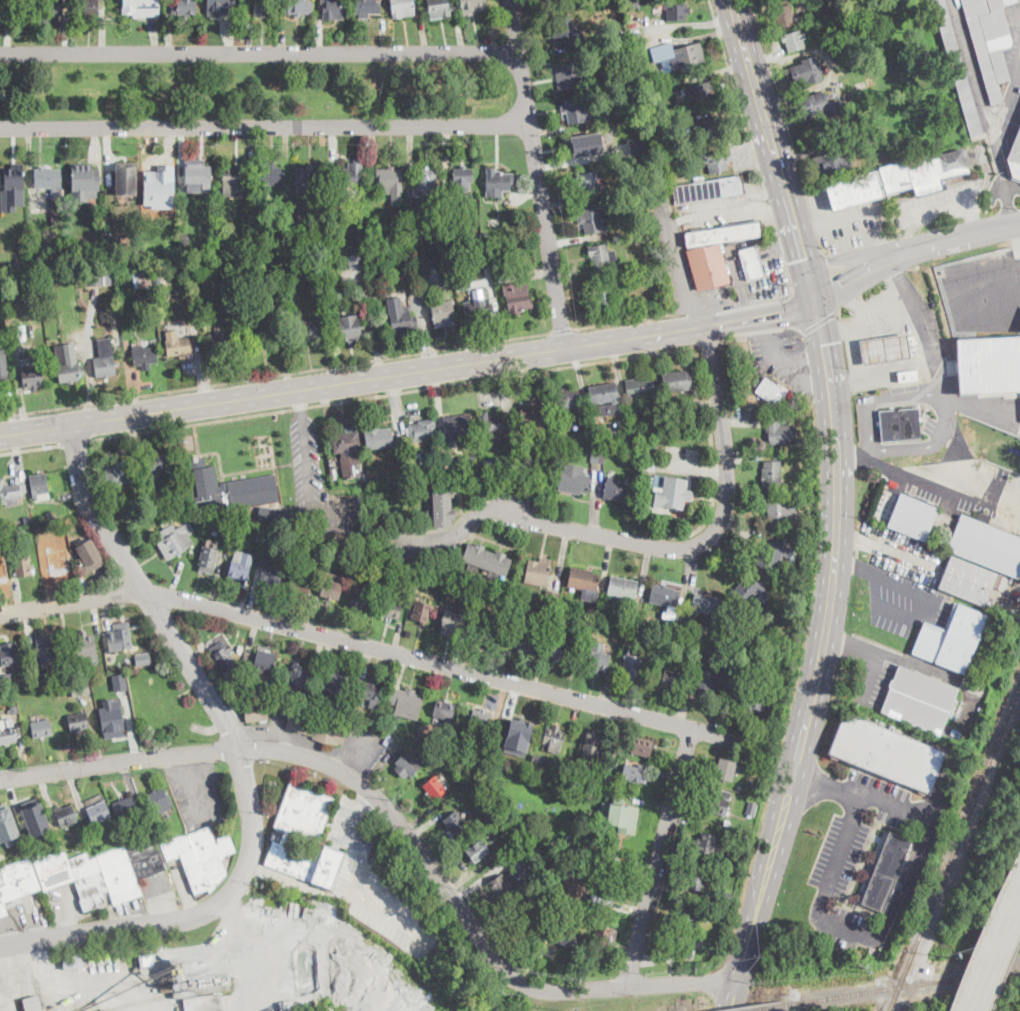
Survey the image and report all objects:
building: (168, 1)
road: (766, 1)
building: (218, 6)
building: (263, 6)
building: (297, 6)
building: (2, 7)
building: (48, 7)
building: (88, 7)
building: (141, 7)
building: (184, 7)
building: (336, 7)
building: (473, 7)
building: (367, 8)
building: (403, 8)
building: (440, 8)
building: (676, 10)
building: (784, 16)
building: (562, 28)
building: (794, 40)
building: (990, 42)
road: (259, 51)
building: (679, 54)
building: (957, 67)
building: (804, 71)
building: (570, 75)
road: (731, 79)
park: (248, 91)
building: (699, 92)
building: (817, 105)
building: (575, 110)
road: (264, 125)
building: (708, 129)
building: (583, 144)
road: (774, 153)
building: (718, 161)
building: (1015, 161)
building: (833, 163)
building: (924, 171)
road: (537, 174)
building: (195, 175)
building: (269, 176)
building: (127, 177)
building: (308, 177)
building: (349, 177)
building: (234, 179)
building: (156, 180)
building: (462, 180)
building: (85, 181)
building: (498, 181)
building: (588, 182)
building: (391, 183)
building: (12, 187)
building: (427, 187)
building: (52, 189)
building: (709, 189)
building: (669, 190)
building: (855, 190)
building: (447, 199)
building: (157, 203)
road: (857, 213)
road: (671, 216)
building: (207, 220)
building: (592, 221)
building: (446, 231)
building: (724, 233)
building: (484, 234)
building: (115, 236)
building: (373, 236)
building: (635, 237)
building: (3, 238)
building: (362, 239)
building: (416, 239)
building: (184, 241)
building: (298, 244)
building: (247, 248)
road: (911, 250)
road: (804, 253)
building: (601, 255)
road: (848, 257)
building: (355, 261)
building: (38, 262)
building: (751, 263)
building: (2, 264)
building: (708, 265)
building: (498, 268)
building: (313, 276)
building: (99, 277)
building: (447, 277)
building: (505, 277)
road: (832, 278)
building: (142, 279)
building: (460, 279)
building: (412, 280)
parking lot: (765, 282)
building: (462, 287)
building: (518, 296)
parking lot: (716, 297)
building: (602, 298)
building: (251, 299)
building: (140, 303)
traffic signals: (817, 307)
building: (478, 308)
building: (258, 309)
road: (684, 312)
building: (444, 313)
road: (797, 314)
building: (404, 320)
road: (820, 320)
road: (922, 324)
building: (350, 328)
building: (310, 329)
road: (562, 330)
building: (17, 331)
road: (670, 332)
road: (760, 332)
building: (265, 336)
building: (221, 343)
road: (710, 343)
building: (179, 346)
building: (887, 348)
building: (144, 354)
road: (782, 354)
parking lot: (783, 357)
building: (105, 359)
building: (68, 362)
building: (989, 364)
building: (4, 365)
road: (274, 374)
building: (32, 375)
building: (908, 376)
road: (354, 380)
building: (678, 380)
building: (756, 381)
building: (640, 387)
road: (395, 391)
building: (772, 392)
road: (937, 396)
building: (567, 398)
building: (606, 398)
building: (675, 406)
road: (117, 416)
building: (532, 420)
building: (659, 420)
building: (900, 424)
building: (493, 425)
building: (457, 426)
building: (423, 430)
road: (24, 431)
building: (780, 432)
building: (379, 437)
road: (75, 440)
building: (559, 442)
building: (631, 443)
building: (647, 444)
building: (516, 445)
road: (30, 448)
building: (346, 451)
building: (648, 452)
road: (853, 452)
building: (436, 453)
building: (598, 455)
building: (505, 461)
building: (472, 463)
building: (490, 463)
building: (159, 464)
building: (649, 465)
road: (308, 471)
building: (120, 473)
building: (772, 474)
building: (402, 475)
building: (574, 480)
road: (927, 482)
parking lot: (319, 484)
building: (39, 486)
building: (228, 487)
building: (617, 489)
building: (670, 491)
building: (11, 493)
building: (443, 503)
road: (711, 512)
building: (781, 513)
building: (49, 515)
building: (275, 515)
building: (913, 517)
building: (1, 521)
building: (209, 525)
building: (221, 530)
road: (712, 534)
building: (252, 536)
building: (173, 538)
building: (270, 539)
building: (358, 540)
building: (804, 543)
building: (987, 545)
road: (886, 547)
building: (88, 551)
parking lot: (901, 552)
building: (773, 555)
building: (210, 557)
building: (346, 559)
building: (487, 560)
building: (56, 562)
building: (23, 566)
building: (240, 568)
building: (2, 572)
building: (271, 572)
building: (539, 572)
building: (968, 580)
building: (1000, 581)
building: (410, 582)
building: (300, 583)
building: (585, 583)
building: (440, 585)
building: (332, 586)
building: (622, 589)
building: (747, 591)
road: (926, 595)
building: (552, 597)
parking lot: (902, 598)
building: (469, 599)
building: (667, 600)
building: (361, 601)
building: (706, 604)
building: (392, 609)
building: (422, 611)
building: (545, 613)
building: (554, 613)
building: (598, 616)
building: (453, 622)
building: (647, 624)
building: (600, 626)
building: (486, 628)
building: (525, 636)
building: (120, 637)
building: (630, 637)
building: (736, 637)
building: (951, 638)
road: (871, 642)
building: (85, 645)
building: (240, 648)
building: (560, 648)
road: (379, 649)
building: (47, 651)
building: (10, 653)
building: (689, 653)
building: (222, 656)
building: (143, 657)
building: (599, 657)
building: (265, 661)
building: (128, 662)
road: (817, 663)
building: (632, 667)
parking lot: (870, 669)
building: (74, 670)
building: (779, 670)
building: (298, 675)
building: (43, 677)
building: (672, 679)
building: (6, 681)
building: (119, 681)
building: (334, 682)
building: (232, 685)
building: (704, 686)
building: (80, 687)
building: (47, 688)
building: (368, 691)
building: (919, 700)
building: (754, 701)
building: (406, 702)
building: (316, 705)
building: (14, 709)
building: (449, 711)
building: (256, 712)
building: (111, 717)
building: (481, 720)
building: (79, 721)
building: (377, 721)
building: (315, 725)
building: (42, 728)
building: (7, 731)
building: (518, 733)
building: (956, 733)
building: (553, 739)
building: (642, 746)
building: (438, 748)
building: (592, 749)
building: (886, 753)
road: (240, 758)
building: (540, 759)
building: (406, 765)
building: (727, 770)
building: (580, 772)
building: (636, 773)
building: (609, 776)
building: (754, 786)
building: (434, 788)
building: (599, 790)
building: (759, 794)
building: (159, 801)
building: (719, 801)
building: (126, 807)
building: (752, 808)
building: (99, 812)
building: (66, 815)
building: (619, 816)
building: (36, 821)
road: (397, 822)
building: (728, 823)
building: (454, 824)
road: (355, 825)
building: (7, 828)
building: (79, 833)
building: (310, 836)
building: (570, 837)
railway: (960, 837)
building: (505, 839)
building: (706, 843)
building: (478, 851)
building: (528, 854)
building: (200, 857)
road: (658, 857)
parking lot: (854, 859)
building: (737, 864)
building: (103, 871)
building: (886, 872)
building: (697, 880)
building: (17, 883)
building: (501, 886)
building: (606, 892)
building: (723, 897)
road: (898, 903)
building: (529, 911)
road: (395, 916)
building: (688, 917)
building: (603, 935)
building: (566, 937)
building: (676, 948)
building: (716, 949)
road: (995, 951)
road: (248, 954)
building: (148, 960)
building: (73, 962)
building: (177, 969)
building: (220, 981)
building: (192, 983)
road: (93, 984)
building: (183, 985)
railway: (903, 985)
building: (176, 986)
building: (166, 987)
railway: (171, 996)
railway: (895, 998)
building: (0, 1001)
building: (32, 1003)
building: (207, 1003)
building: (287, 1005)
railway: (764, 1007)
building: (912, 1008)

